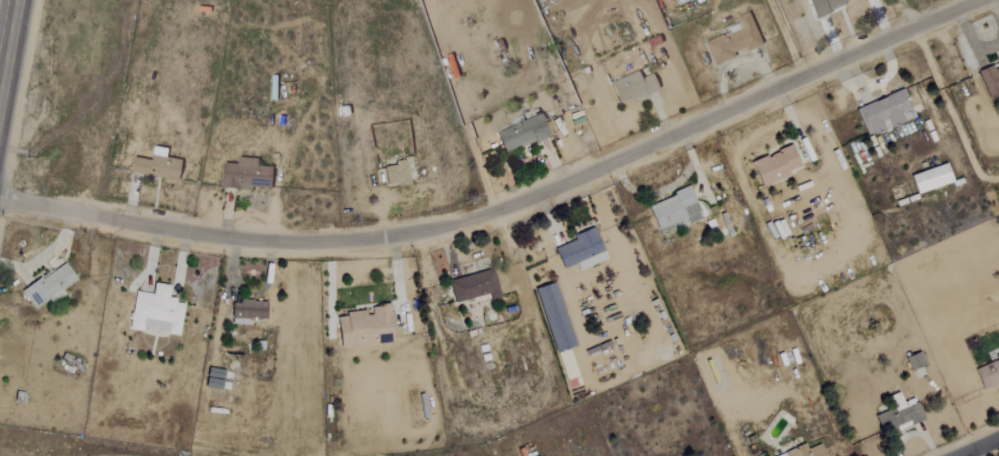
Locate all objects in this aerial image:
building: (676, 0)
building: (823, 5)
building: (731, 41)
road: (8, 44)
building: (989, 81)
building: (631, 87)
building: (884, 112)
building: (521, 134)
building: (153, 166)
building: (773, 166)
building: (395, 174)
building: (242, 176)
building: (929, 179)
road: (507, 205)
road: (571, 207)
building: (673, 210)
building: (580, 251)
road: (592, 271)
building: (48, 287)
building: (474, 287)
building: (155, 311)
building: (246, 311)
building: (553, 318)
building: (366, 328)
building: (913, 360)
building: (567, 369)
building: (988, 374)
building: (897, 415)
road: (981, 448)
building: (804, 451)

